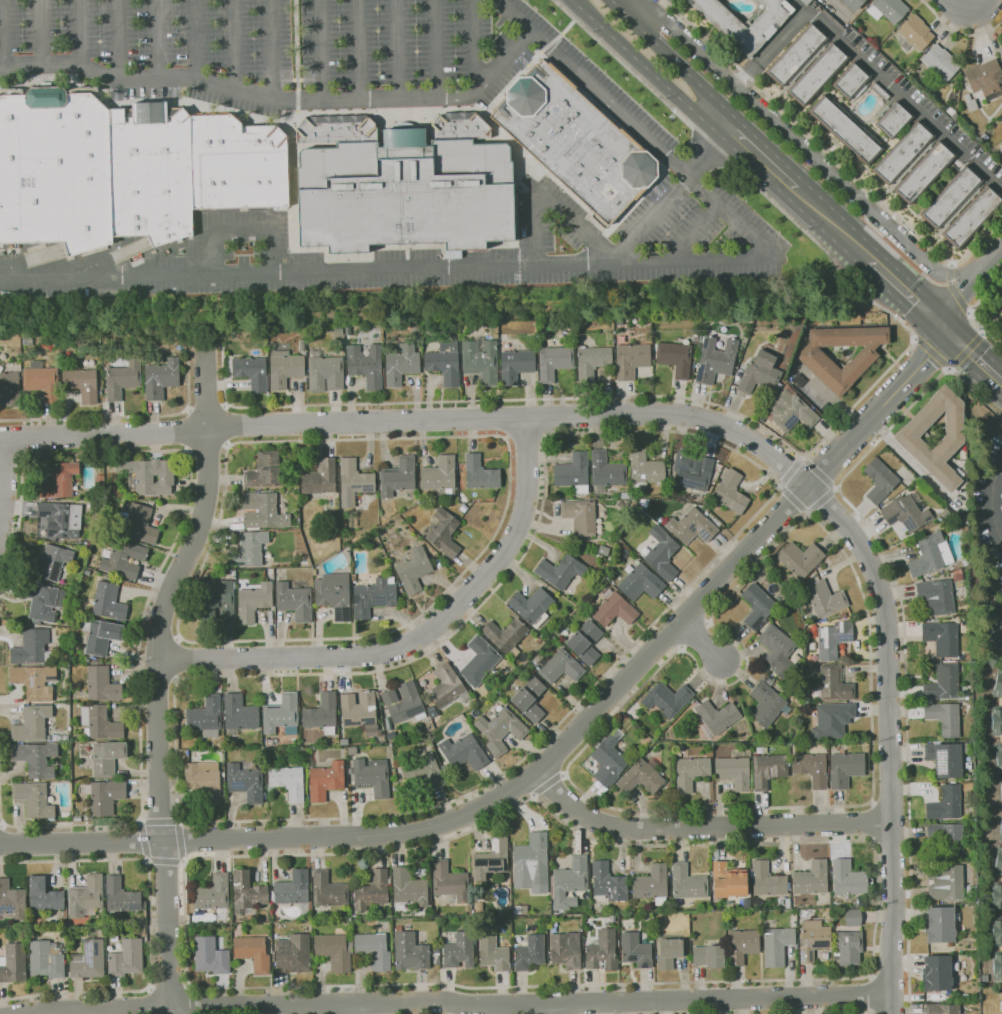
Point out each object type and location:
building: (806, 1)
building: (853, 3)
road: (659, 9)
building: (889, 9)
road: (969, 13)
road: (958, 32)
building: (915, 33)
road: (77, 34)
road: (40, 35)
road: (1, 36)
road: (117, 40)
road: (156, 40)
building: (748, 41)
road: (194, 42)
road: (777, 42)
road: (295, 45)
road: (231, 46)
road: (474, 48)
road: (397, 49)
road: (435, 49)
road: (274, 50)
road: (354, 50)
road: (318, 51)
building: (1001, 52)
road: (672, 54)
building: (796, 54)
building: (940, 62)
building: (807, 63)
road: (641, 65)
building: (817, 73)
building: (986, 79)
building: (851, 81)
road: (593, 85)
parking lot: (377, 87)
building: (880, 91)
road: (278, 100)
road: (297, 100)
building: (970, 103)
road: (908, 104)
parking lot: (922, 108)
building: (951, 110)
building: (893, 119)
building: (846, 129)
building: (575, 141)
road: (710, 148)
building: (1001, 149)
road: (760, 151)
building: (903, 152)
road: (809, 153)
building: (997, 153)
road: (834, 156)
building: (216, 161)
road: (292, 161)
building: (914, 162)
building: (265, 166)
building: (55, 169)
building: (151, 172)
building: (924, 172)
building: (403, 185)
building: (951, 197)
road: (549, 203)
building: (961, 208)
road: (290, 215)
building: (972, 216)
road: (650, 218)
road: (276, 221)
road: (834, 221)
road: (243, 232)
road: (698, 233)
road: (363, 258)
road: (752, 262)
road: (305, 270)
road: (970, 290)
road: (954, 291)
road: (910, 293)
road: (971, 312)
building: (1001, 314)
traffic signals: (951, 333)
building: (495, 335)
building: (302, 345)
road: (966, 350)
road: (932, 354)
road: (976, 355)
building: (675, 357)
building: (481, 360)
building: (631, 360)
building: (716, 360)
building: (554, 362)
building: (592, 362)
building: (445, 363)
building: (401, 364)
building: (366, 365)
building: (516, 365)
building: (821, 365)
building: (285, 370)
building: (252, 372)
building: (325, 372)
building: (760, 373)
building: (122, 378)
building: (161, 378)
building: (41, 379)
building: (798, 380)
building: (82, 384)
building: (10, 388)
road: (207, 408)
building: (790, 410)
road: (126, 416)
road: (414, 422)
road: (224, 425)
road: (189, 430)
road: (494, 435)
road: (526, 437)
road: (19, 438)
road: (707, 438)
building: (909, 440)
road: (207, 447)
road: (805, 456)
road: (12, 457)
building: (458, 465)
building: (645, 468)
building: (264, 471)
building: (606, 471)
building: (693, 471)
building: (573, 472)
road: (790, 472)
building: (480, 473)
road: (820, 473)
building: (151, 476)
building: (440, 476)
building: (320, 477)
building: (399, 477)
road: (4, 480)
building: (59, 480)
building: (100, 480)
building: (880, 480)
building: (353, 482)
building: (731, 492)
building: (587, 497)
road: (794, 501)
road: (992, 501)
road: (822, 502)
building: (263, 511)
building: (906, 513)
building: (581, 516)
building: (61, 519)
building: (136, 523)
building: (343, 524)
building: (332, 526)
building: (691, 527)
building: (444, 533)
building: (145, 544)
building: (249, 548)
building: (604, 550)
road: (170, 551)
building: (662, 553)
building: (930, 554)
building: (599, 556)
building: (124, 559)
building: (801, 559)
building: (304, 561)
building: (50, 563)
building: (414, 570)
building: (87, 571)
building: (560, 571)
road: (856, 575)
building: (641, 583)
building: (334, 594)
building: (937, 596)
building: (373, 597)
building: (824, 598)
building: (42, 599)
building: (109, 601)
building: (254, 601)
building: (295, 601)
building: (219, 602)
building: (532, 606)
building: (758, 606)
building: (614, 608)
building: (844, 615)
road: (904, 624)
building: (101, 635)
building: (506, 636)
building: (942, 637)
road: (419, 638)
building: (833, 639)
building: (539, 640)
road: (702, 641)
building: (585, 642)
building: (32, 648)
building: (777, 648)
building: (991, 657)
road: (177, 659)
building: (479, 660)
building: (561, 667)
road: (160, 679)
building: (769, 681)
building: (35, 682)
building: (944, 683)
building: (834, 684)
building: (998, 684)
building: (102, 685)
building: (447, 687)
building: (530, 699)
building: (667, 699)
building: (404, 702)
building: (767, 704)
building: (359, 710)
building: (240, 713)
building: (282, 714)
building: (322, 714)
building: (206, 716)
building: (717, 717)
building: (945, 718)
building: (832, 720)
building: (997, 720)
building: (100, 723)
building: (32, 724)
building: (501, 729)
building: (394, 735)
road: (890, 737)
building: (344, 741)
building: (270, 742)
building: (971, 742)
building: (351, 750)
building: (464, 752)
road: (555, 754)
building: (999, 756)
building: (107, 757)
building: (609, 758)
building: (36, 759)
building: (947, 759)
building: (812, 768)
building: (845, 769)
building: (424, 770)
building: (769, 770)
building: (734, 771)
building: (691, 772)
building: (642, 776)
building: (372, 777)
building: (326, 780)
building: (204, 781)
building: (288, 781)
building: (245, 782)
building: (953, 782)
road: (546, 784)
building: (671, 787)
building: (1001, 791)
building: (105, 796)
building: (35, 799)
building: (946, 804)
road: (161, 819)
road: (872, 821)
road: (2, 823)
road: (705, 829)
building: (1001, 830)
building: (947, 840)
road: (144, 841)
road: (179, 841)
building: (491, 859)
road: (166, 861)
building: (532, 862)
building: (998, 862)
building: (848, 878)
building: (767, 879)
building: (811, 879)
building: (728, 880)
building: (450, 881)
building: (570, 882)
building: (688, 882)
building: (608, 883)
building: (653, 884)
building: (948, 884)
building: (409, 887)
building: (293, 888)
building: (328, 890)
building: (372, 891)
building: (213, 893)
building: (247, 893)
building: (44, 895)
building: (122, 896)
building: (86, 897)
building: (997, 897)
building: (12, 900)
building: (520, 910)
building: (853, 917)
building: (141, 920)
building: (940, 925)
road: (150, 927)
building: (997, 931)
building: (813, 939)
building: (742, 945)
building: (777, 945)
building: (848, 948)
building: (566, 949)
building: (373, 950)
building: (459, 950)
building: (636, 950)
building: (335, 951)
building: (409, 951)
building: (602, 951)
building: (670, 952)
building: (253, 953)
building: (294, 953)
building: (493, 953)
building: (530, 953)
road: (873, 955)
building: (211, 956)
building: (709, 956)
building: (126, 958)
building: (46, 959)
building: (89, 960)
building: (14, 963)
building: (997, 966)
building: (937, 973)
road: (170, 988)
road: (871, 995)
road: (186, 1000)
road: (152, 1001)
road: (625, 1002)
road: (265, 1005)
road: (359, 1008)
building: (942, 1008)
road: (99, 1009)
road: (549, 1009)
road: (846, 1013)

